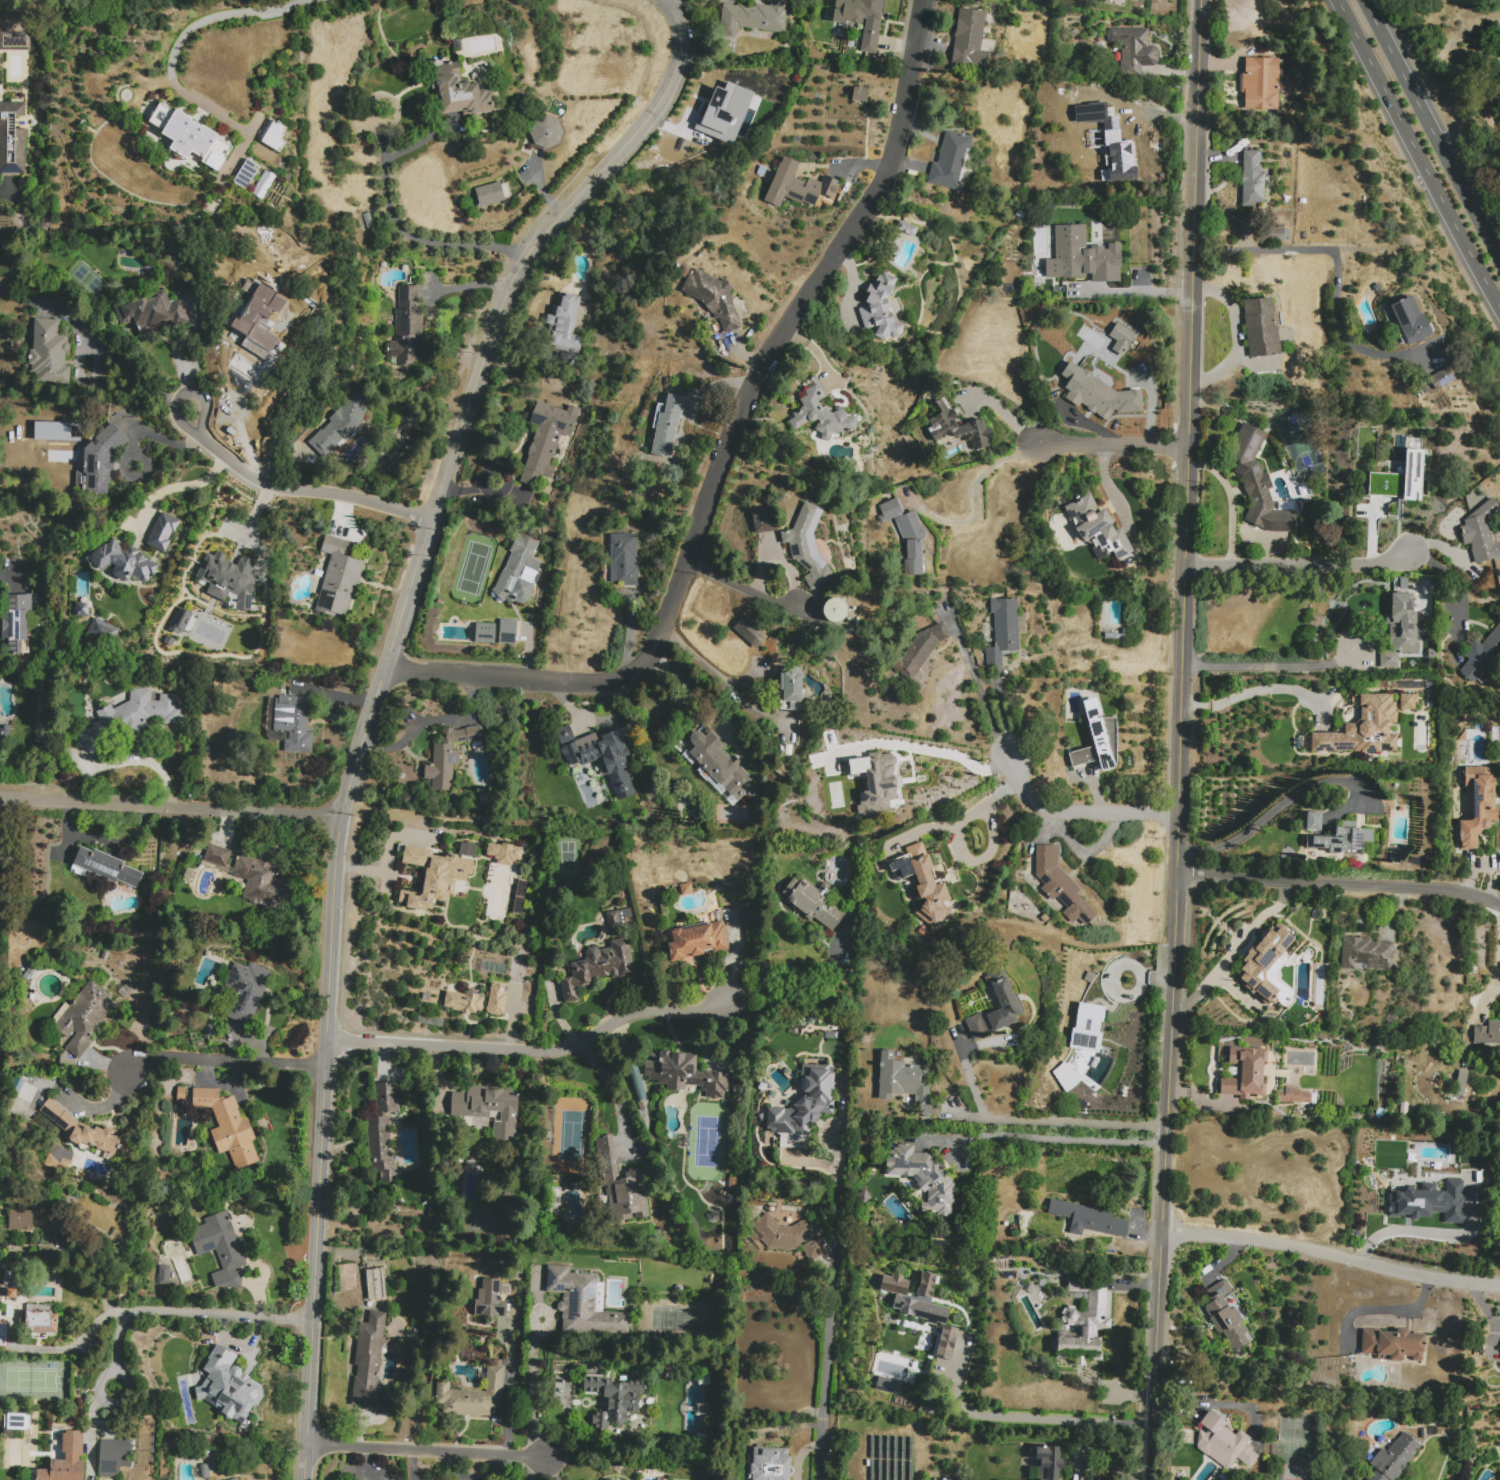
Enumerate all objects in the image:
building: (1132, 0)
building: (758, 16)
building: (861, 19)
road: (184, 35)
building: (969, 38)
building: (19, 41)
building: (1133, 50)
building: (1260, 83)
building: (458, 91)
building: (858, 93)
building: (489, 124)
road: (1432, 126)
building: (546, 132)
building: (692, 132)
building: (272, 135)
building: (12, 138)
building: (189, 141)
building: (1098, 141)
road: (1420, 149)
building: (950, 161)
building: (1252, 180)
building: (263, 184)
building: (803, 185)
road: (7, 193)
building: (491, 194)
road: (396, 219)
building: (367, 221)
building: (906, 228)
building: (1278, 234)
building: (1080, 256)
building: (229, 265)
road: (1338, 273)
building: (255, 275)
road: (1131, 292)
building: (713, 298)
building: (880, 308)
building: (152, 314)
building: (1409, 321)
building: (563, 324)
building: (407, 327)
building: (1261, 327)
road: (1240, 334)
building: (250, 336)
building: (1120, 338)
building: (49, 353)
road: (111, 361)
road: (80, 376)
building: (1441, 378)
building: (1103, 397)
road: (235, 411)
building: (821, 415)
building: (341, 423)
building: (667, 426)
building: (960, 427)
building: (546, 439)
road: (1114, 444)
road: (728, 447)
building: (99, 461)
building: (1411, 474)
building: (1257, 483)
building: (1382, 484)
road: (177, 487)
road: (297, 489)
road: (975, 496)
building: (764, 522)
road: (252, 528)
building: (1098, 528)
building: (162, 531)
building: (1481, 533)
building: (906, 535)
building: (807, 546)
building: (624, 559)
building: (122, 562)
road: (1301, 564)
building: (518, 572)
building: (226, 578)
building: (338, 578)
road: (1465, 582)
road: (740, 587)
building: (37, 600)
building: (81, 610)
building: (833, 610)
building: (179, 621)
building: (16, 623)
building: (1400, 630)
building: (102, 631)
building: (747, 631)
building: (1003, 631)
building: (507, 632)
building: (485, 633)
building: (921, 648)
building: (1483, 659)
road: (1275, 665)
road: (722, 679)
road: (974, 683)
road: (1261, 689)
building: (792, 690)
road: (374, 701)
building: (1407, 701)
building: (130, 717)
building: (293, 722)
building: (1365, 729)
building: (5, 734)
building: (1097, 739)
road: (1181, 740)
road: (934, 753)
building: (448, 756)
building: (615, 763)
building: (717, 767)
building: (877, 783)
building: (1478, 804)
road: (984, 805)
road: (1285, 805)
road: (169, 807)
road: (1076, 811)
building: (1311, 821)
building: (1338, 839)
building: (504, 854)
building: (217, 855)
building: (104, 867)
road: (378, 870)
building: (436, 875)
building: (260, 880)
road: (1339, 883)
building: (924, 885)
building: (1060, 885)
building: (686, 889)
building: (813, 903)
building: (617, 918)
building: (698, 941)
road: (1231, 950)
building: (1364, 954)
building: (1267, 967)
building: (599, 968)
road: (1498, 974)
road: (1156, 979)
road: (800, 986)
building: (246, 990)
road: (1131, 994)
building: (496, 1000)
building: (1008, 1001)
building: (463, 1002)
building: (84, 1017)
building: (1085, 1027)
building: (1487, 1033)
building: (830, 1035)
building: (865, 1039)
road: (533, 1051)
road: (225, 1060)
road: (969, 1073)
building: (1245, 1073)
building: (685, 1074)
building: (1065, 1076)
building: (1462, 1077)
building: (906, 1083)
building: (1458, 1089)
building: (181, 1094)
road: (615, 1095)
building: (1295, 1096)
building: (1456, 1098)
building: (805, 1103)
building: (1454, 1106)
building: (489, 1109)
road: (966, 1116)
road: (1077, 1122)
building: (228, 1127)
building: (80, 1129)
building: (382, 1131)
road: (1038, 1138)
park: (705, 1140)
building: (57, 1158)
building: (923, 1177)
building: (732, 1183)
building: (622, 1184)
building: (1429, 1202)
building: (1088, 1219)
building: (20, 1220)
building: (780, 1233)
road: (1434, 1235)
building: (220, 1249)
building: (814, 1249)
road: (1331, 1254)
road: (1227, 1259)
building: (162, 1274)
building: (375, 1283)
building: (10, 1284)
building: (488, 1298)
building: (584, 1304)
building: (921, 1307)
road: (182, 1313)
building: (1227, 1315)
building: (1084, 1320)
building: (41, 1324)
road: (829, 1332)
road: (81, 1336)
building: (1392, 1344)
building: (368, 1359)
building: (886, 1384)
building: (228, 1387)
road: (534, 1387)
building: (472, 1396)
building: (613, 1398)
road: (563, 1409)
road: (1036, 1419)
building: (15, 1421)
road: (91, 1429)
building: (1223, 1442)
road: (427, 1450)
building: (63, 1454)
building: (113, 1457)
building: (1393, 1458)
building: (1048, 1462)
building: (768, 1464)
road: (531, 1468)
building: (1499, 1475)
building: (617, 1477)
building: (234, 1479)

